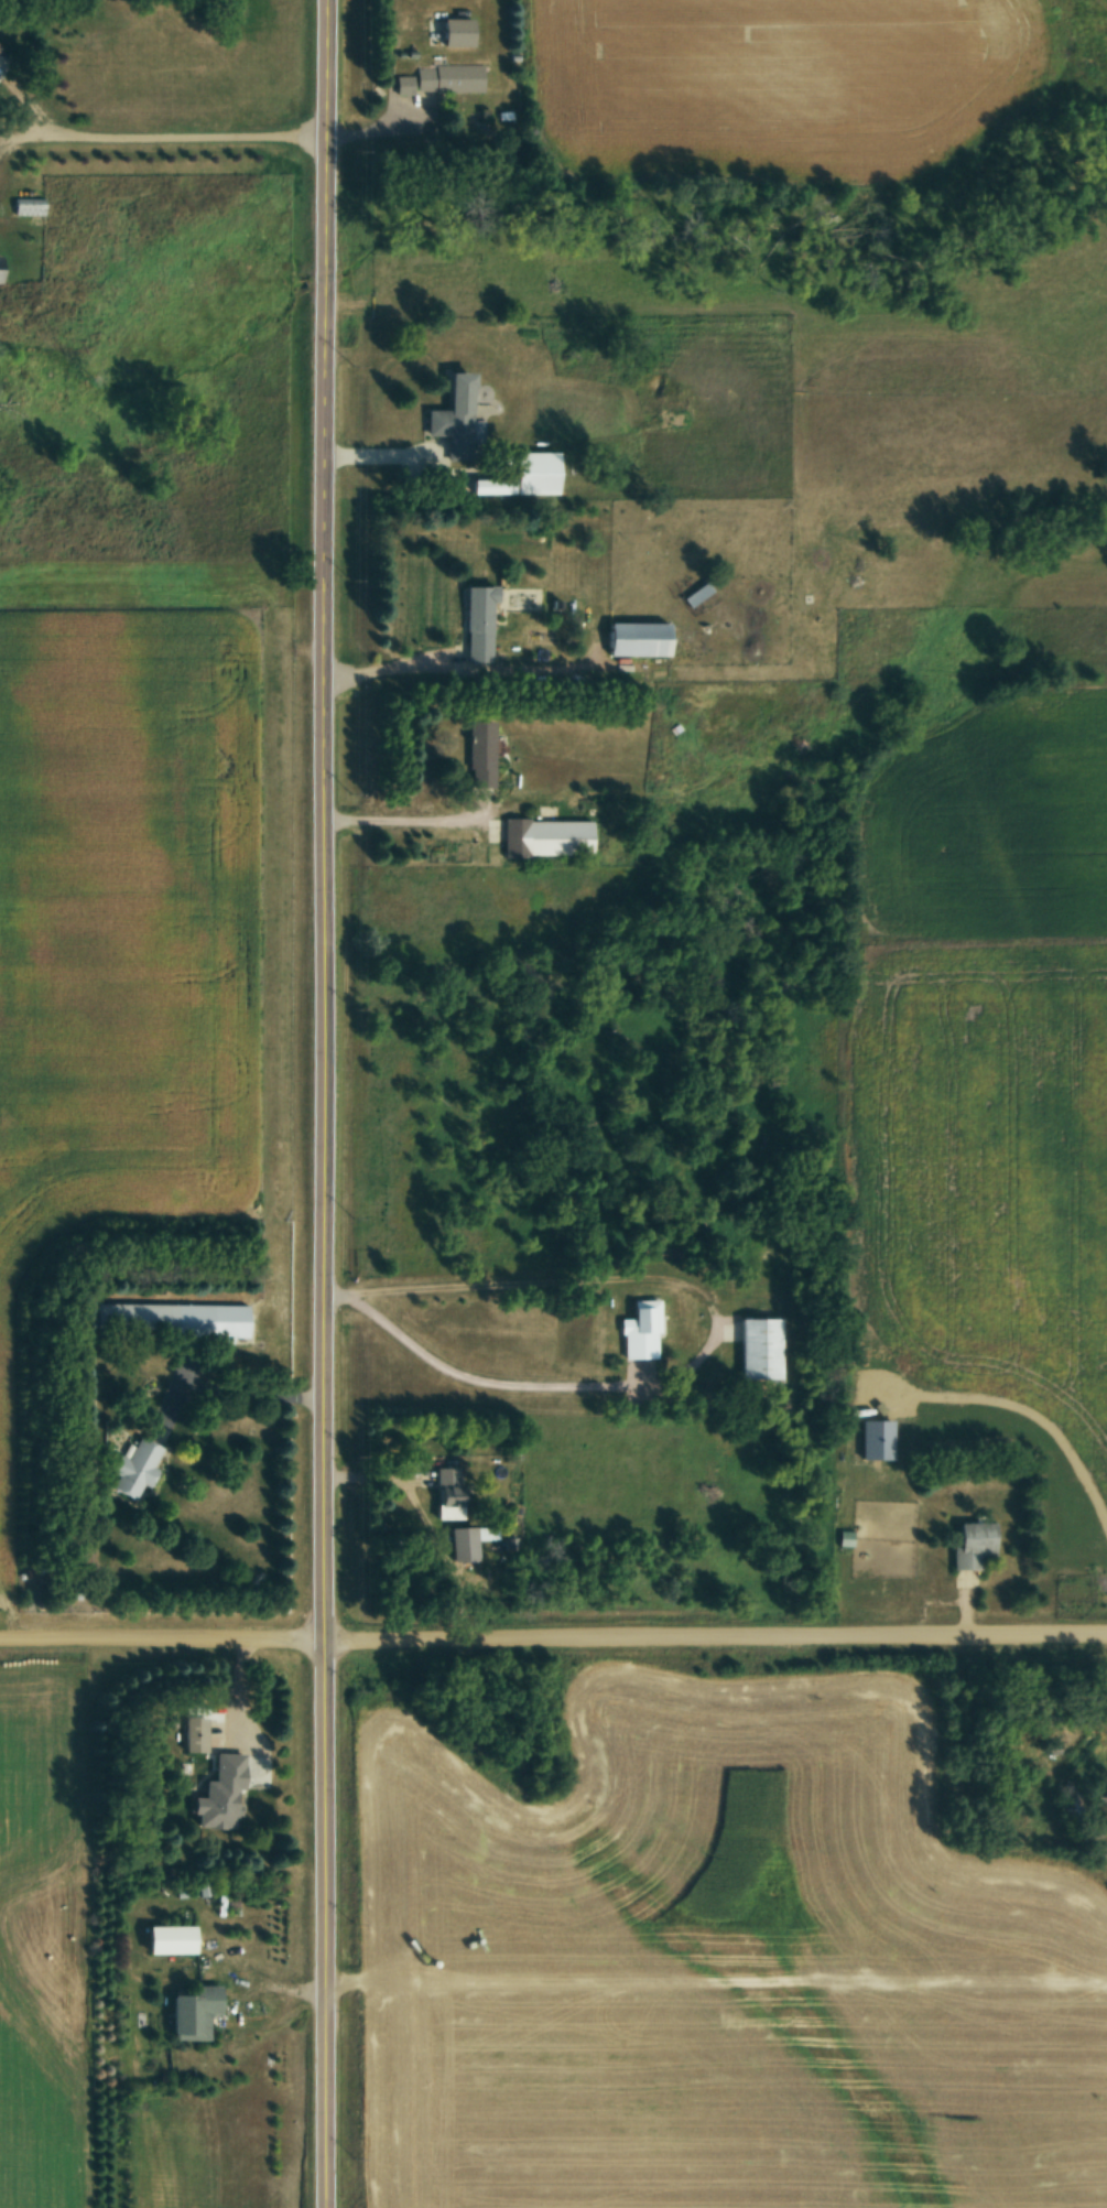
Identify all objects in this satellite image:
building: (448, 78)
building: (403, 85)
road: (163, 137)
building: (26, 206)
building: (453, 418)
road: (400, 451)
building: (533, 472)
building: (696, 593)
road: (163, 619)
building: (477, 623)
building: (636, 638)
road: (387, 667)
building: (479, 754)
road: (406, 819)
building: (544, 836)
road: (327, 1103)
building: (644, 1316)
building: (169, 1319)
road: (712, 1338)
building: (758, 1349)
building: (135, 1469)
building: (446, 1493)
building: (845, 1538)
building: (460, 1544)
building: (972, 1546)
road: (553, 1639)
building: (194, 1735)
building: (1076, 1750)
building: (220, 1779)
building: (1068, 1800)
building: (203, 1885)
building: (167, 1939)
building: (192, 2012)

